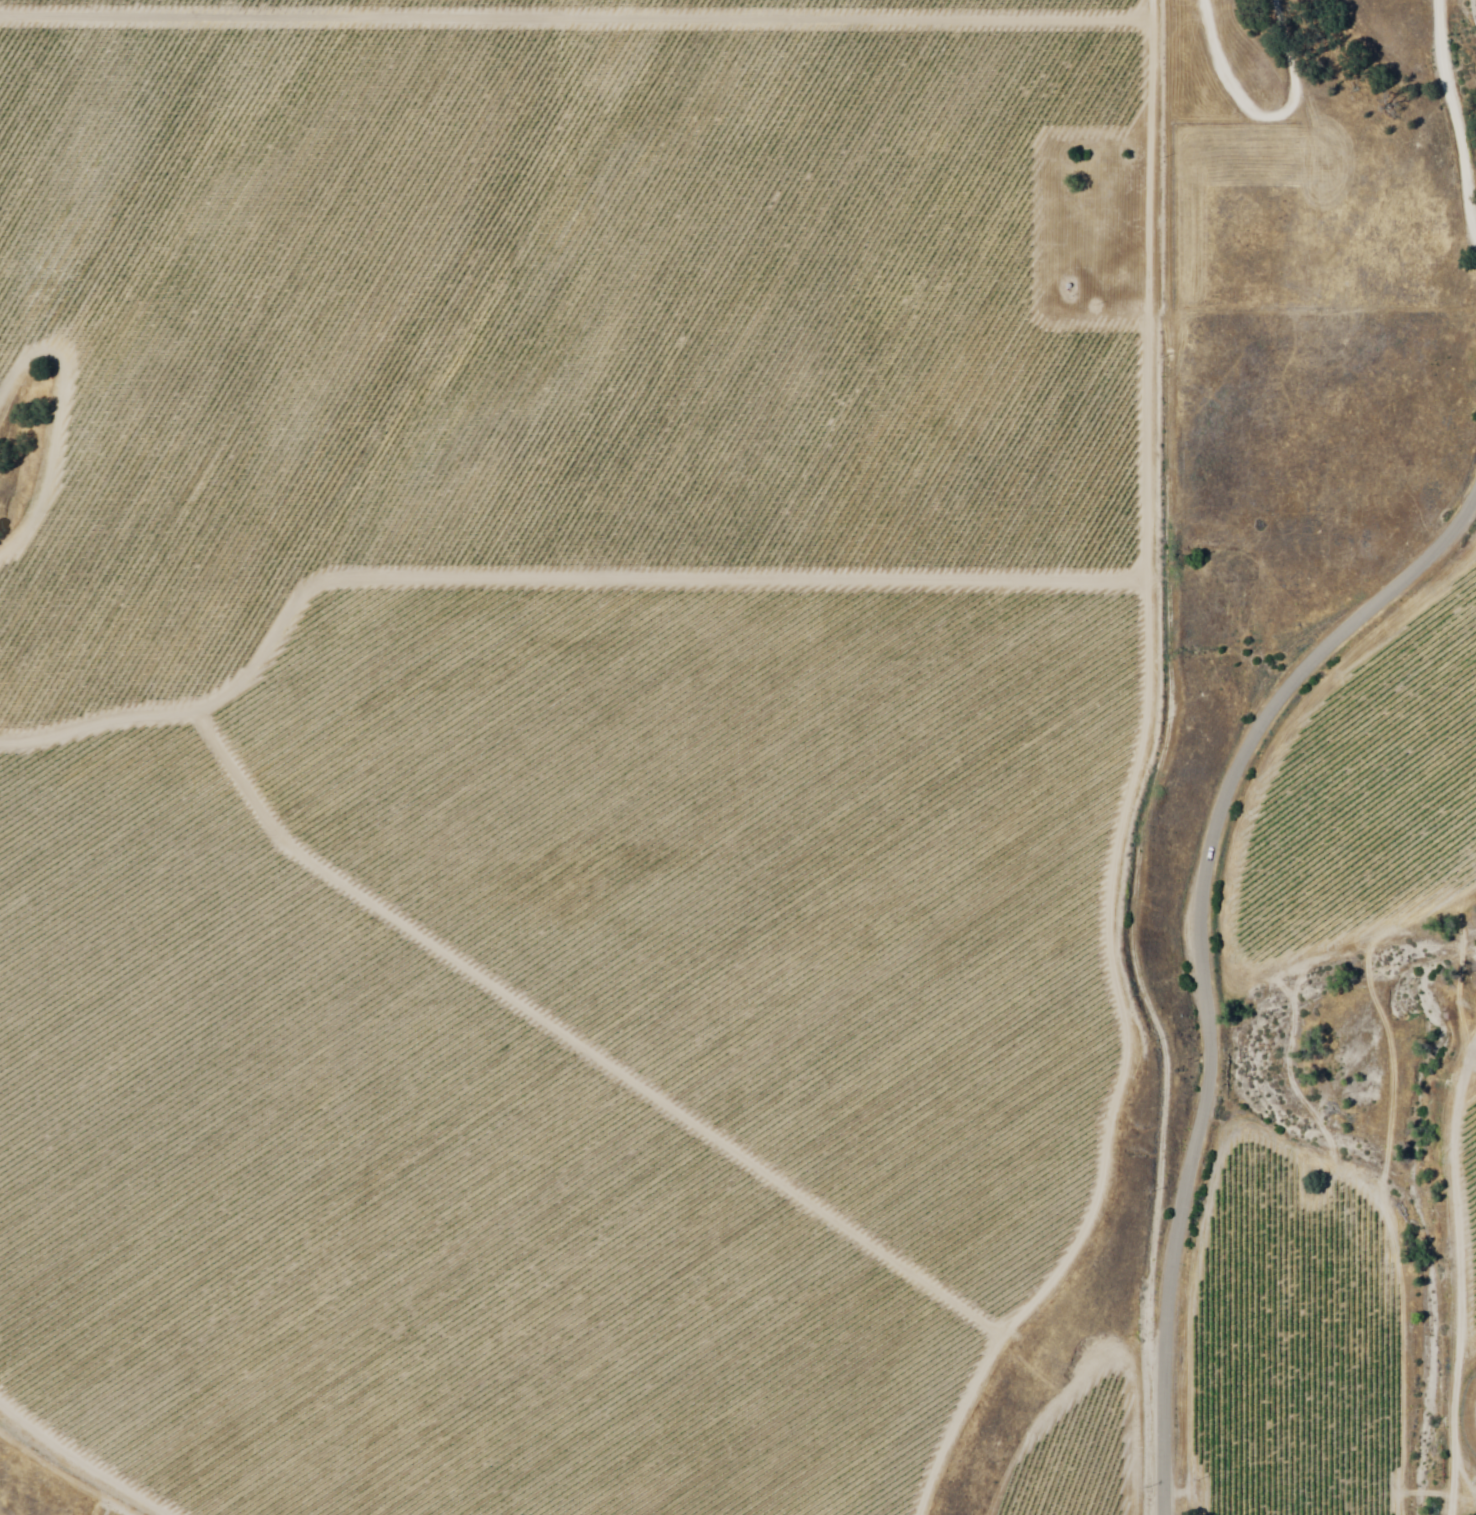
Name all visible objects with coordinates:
road: (1451, 121)
road: (1138, 853)
road: (1196, 952)

